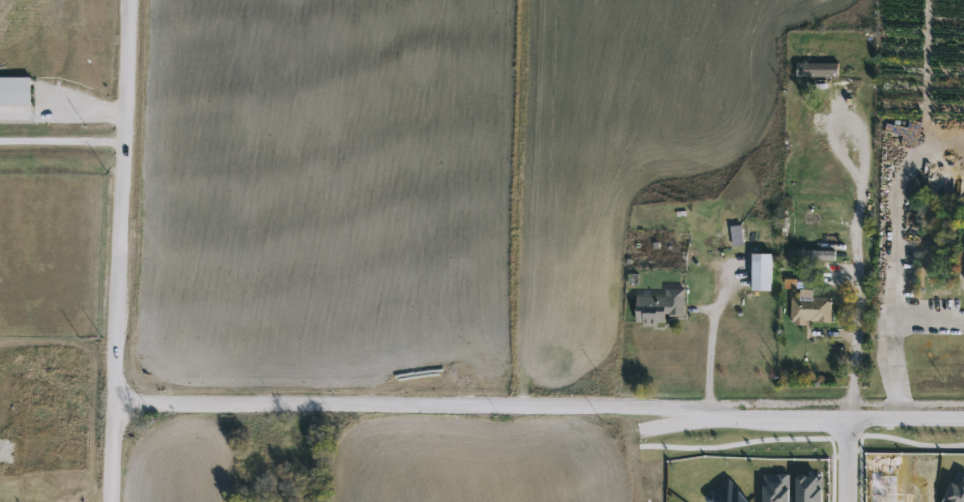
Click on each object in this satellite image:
building: (816, 69)
building: (14, 90)
road: (62, 137)
road: (856, 225)
road: (121, 251)
building: (811, 253)
road: (894, 256)
building: (760, 270)
building: (658, 304)
building: (809, 306)
road: (927, 322)
road: (704, 357)
road: (540, 404)
building: (6, 450)
road: (850, 454)

